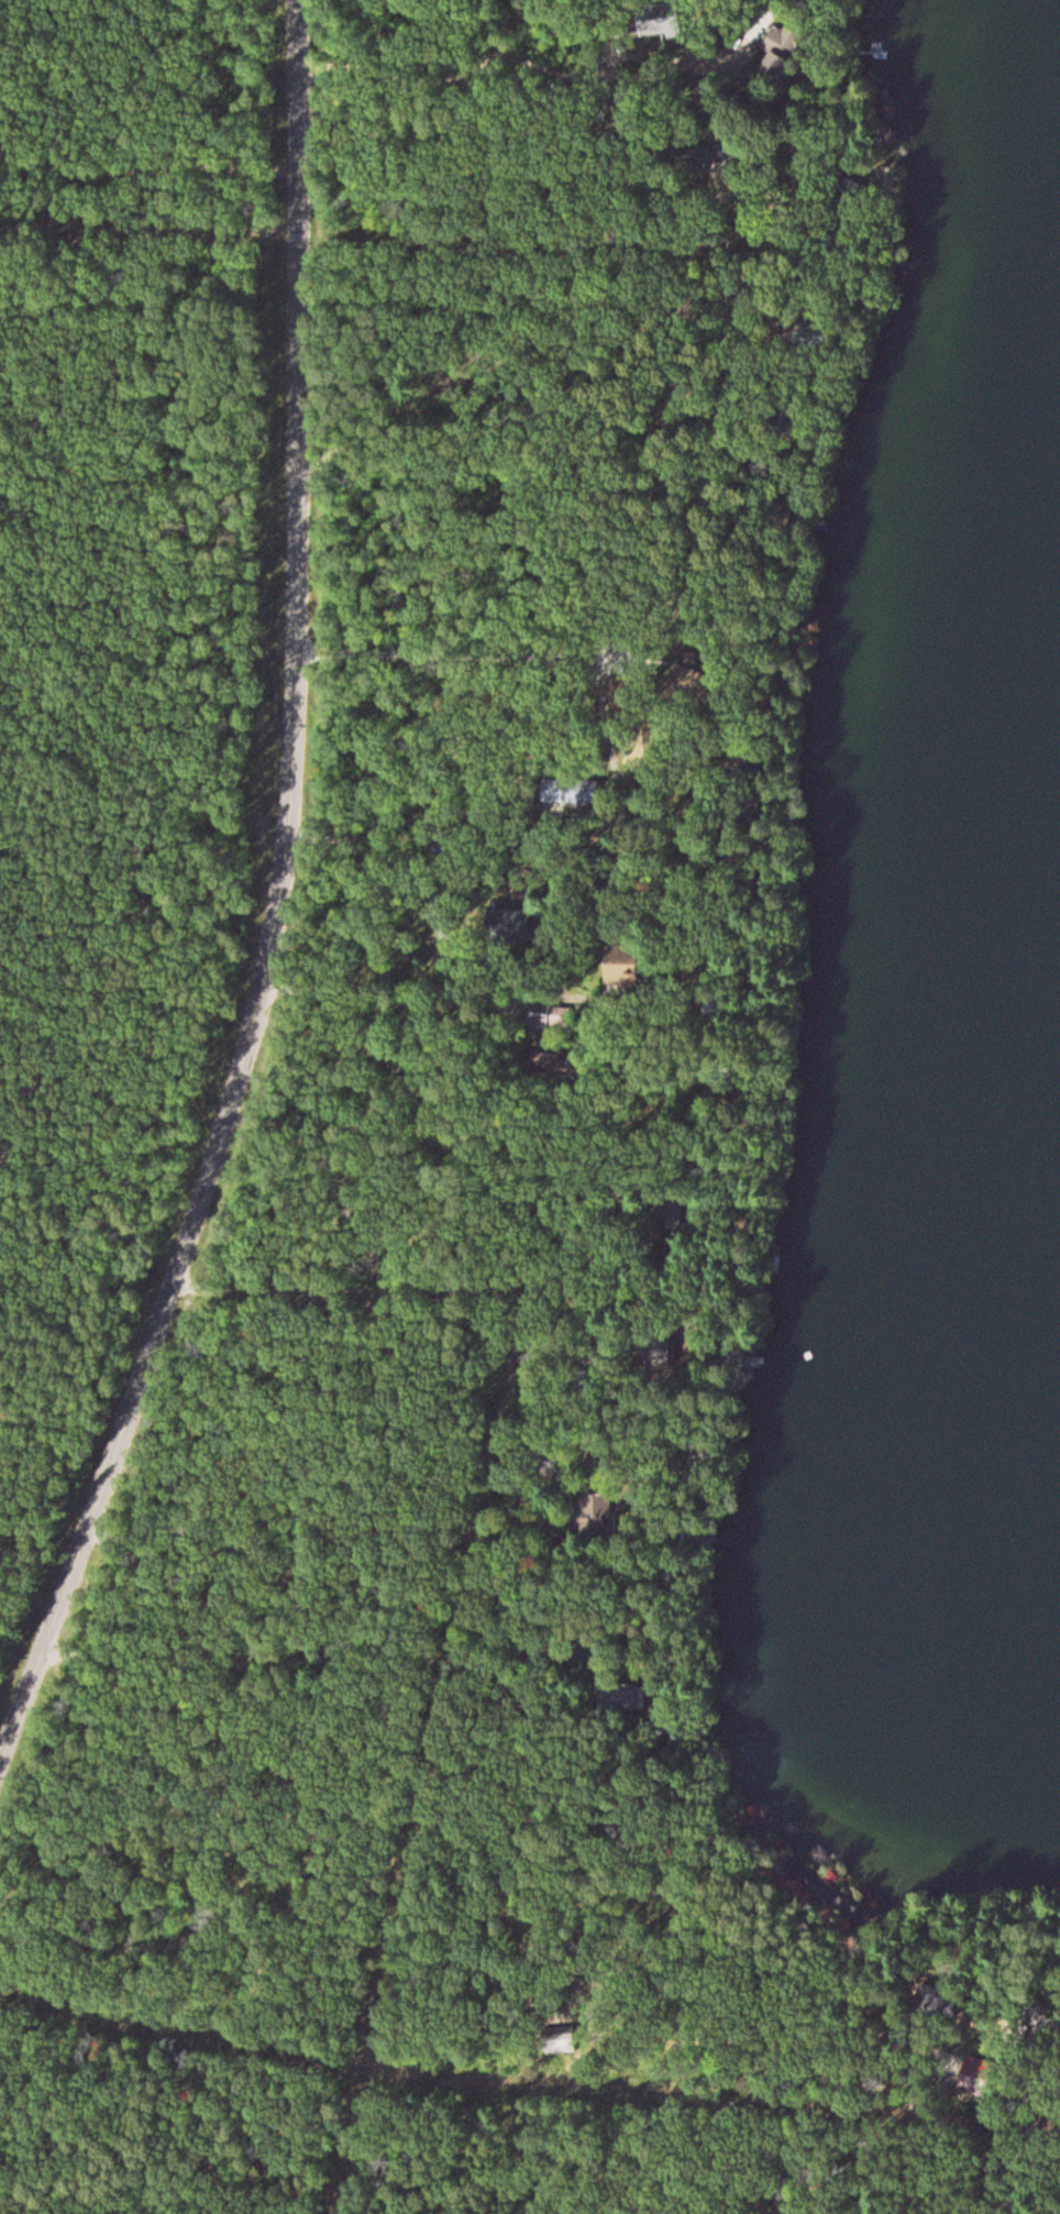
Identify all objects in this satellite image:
building: (773, 52)
road: (622, 59)
road: (556, 238)
road: (539, 366)
road: (545, 488)
road: (501, 614)
road: (464, 768)
building: (566, 793)
road: (276, 904)
building: (505, 929)
road: (476, 947)
building: (540, 1020)
road: (606, 1095)
road: (444, 1168)
building: (666, 1214)
road: (406, 1277)
road: (369, 1514)
building: (587, 1520)
building: (614, 1697)
road: (314, 1898)
building: (930, 2006)
road: (920, 2125)

